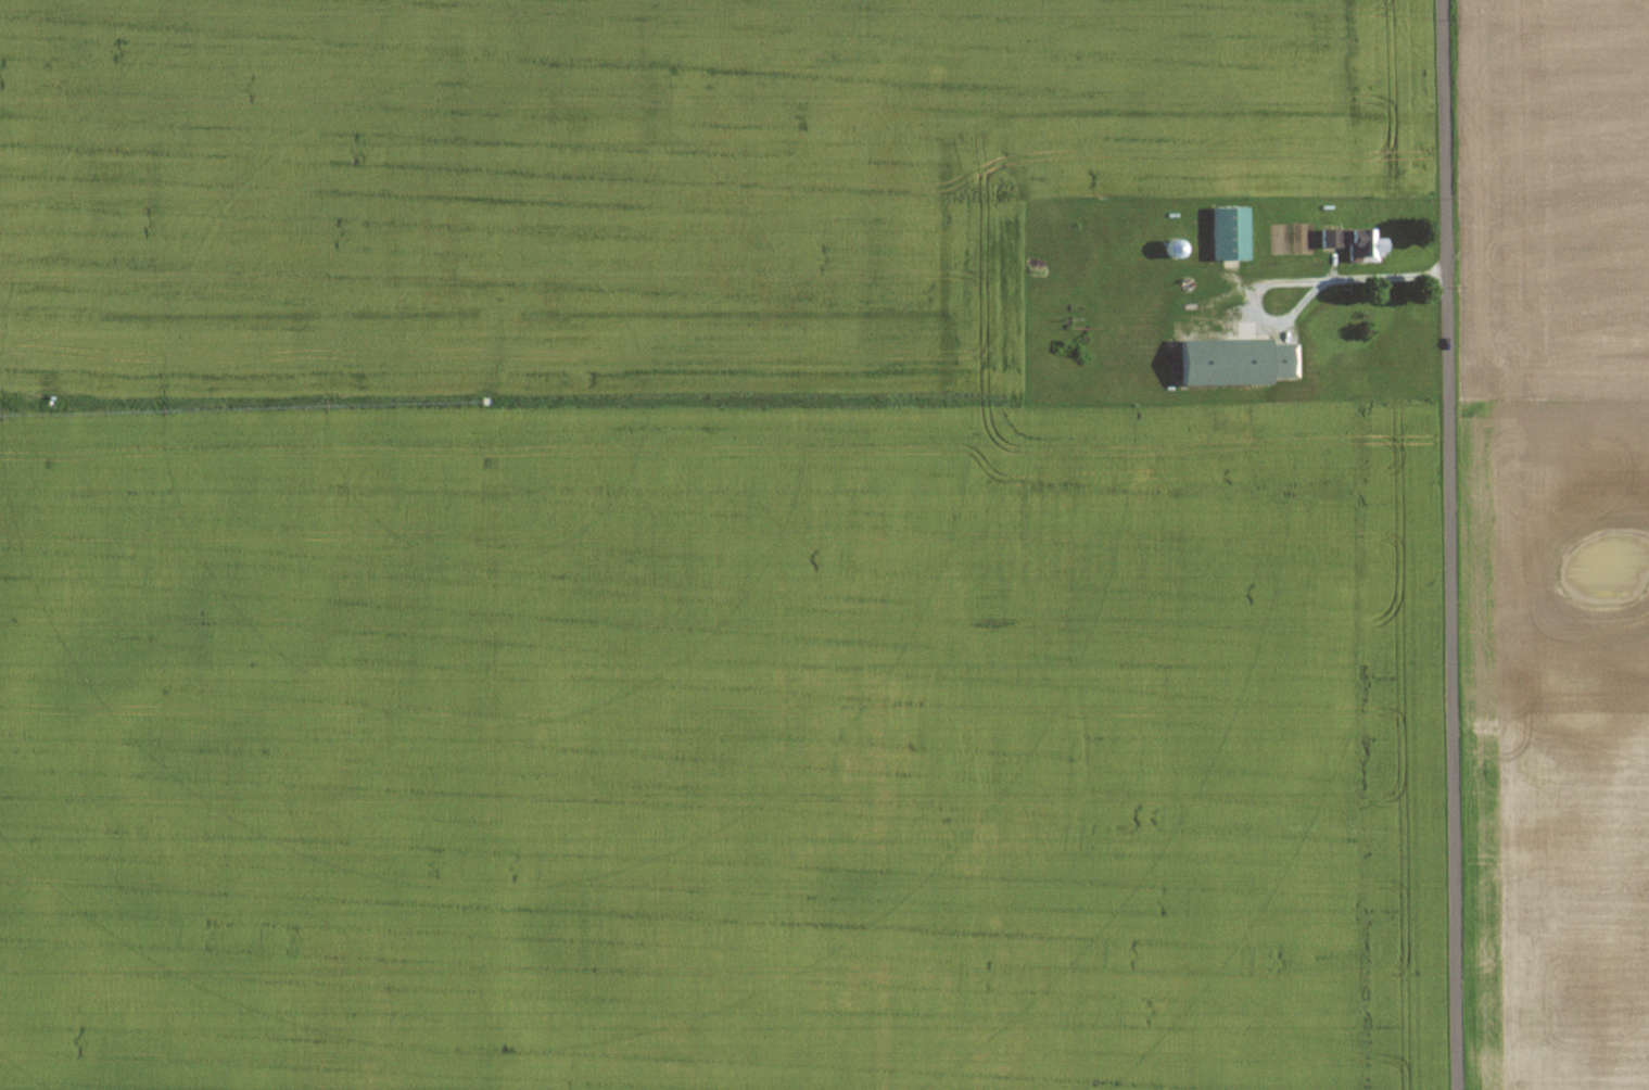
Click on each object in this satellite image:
building: (1229, 232)
building: (1353, 243)
building: (1170, 249)
road: (1306, 284)
building: (1215, 314)
road: (1458, 544)
crop: (683, 559)

